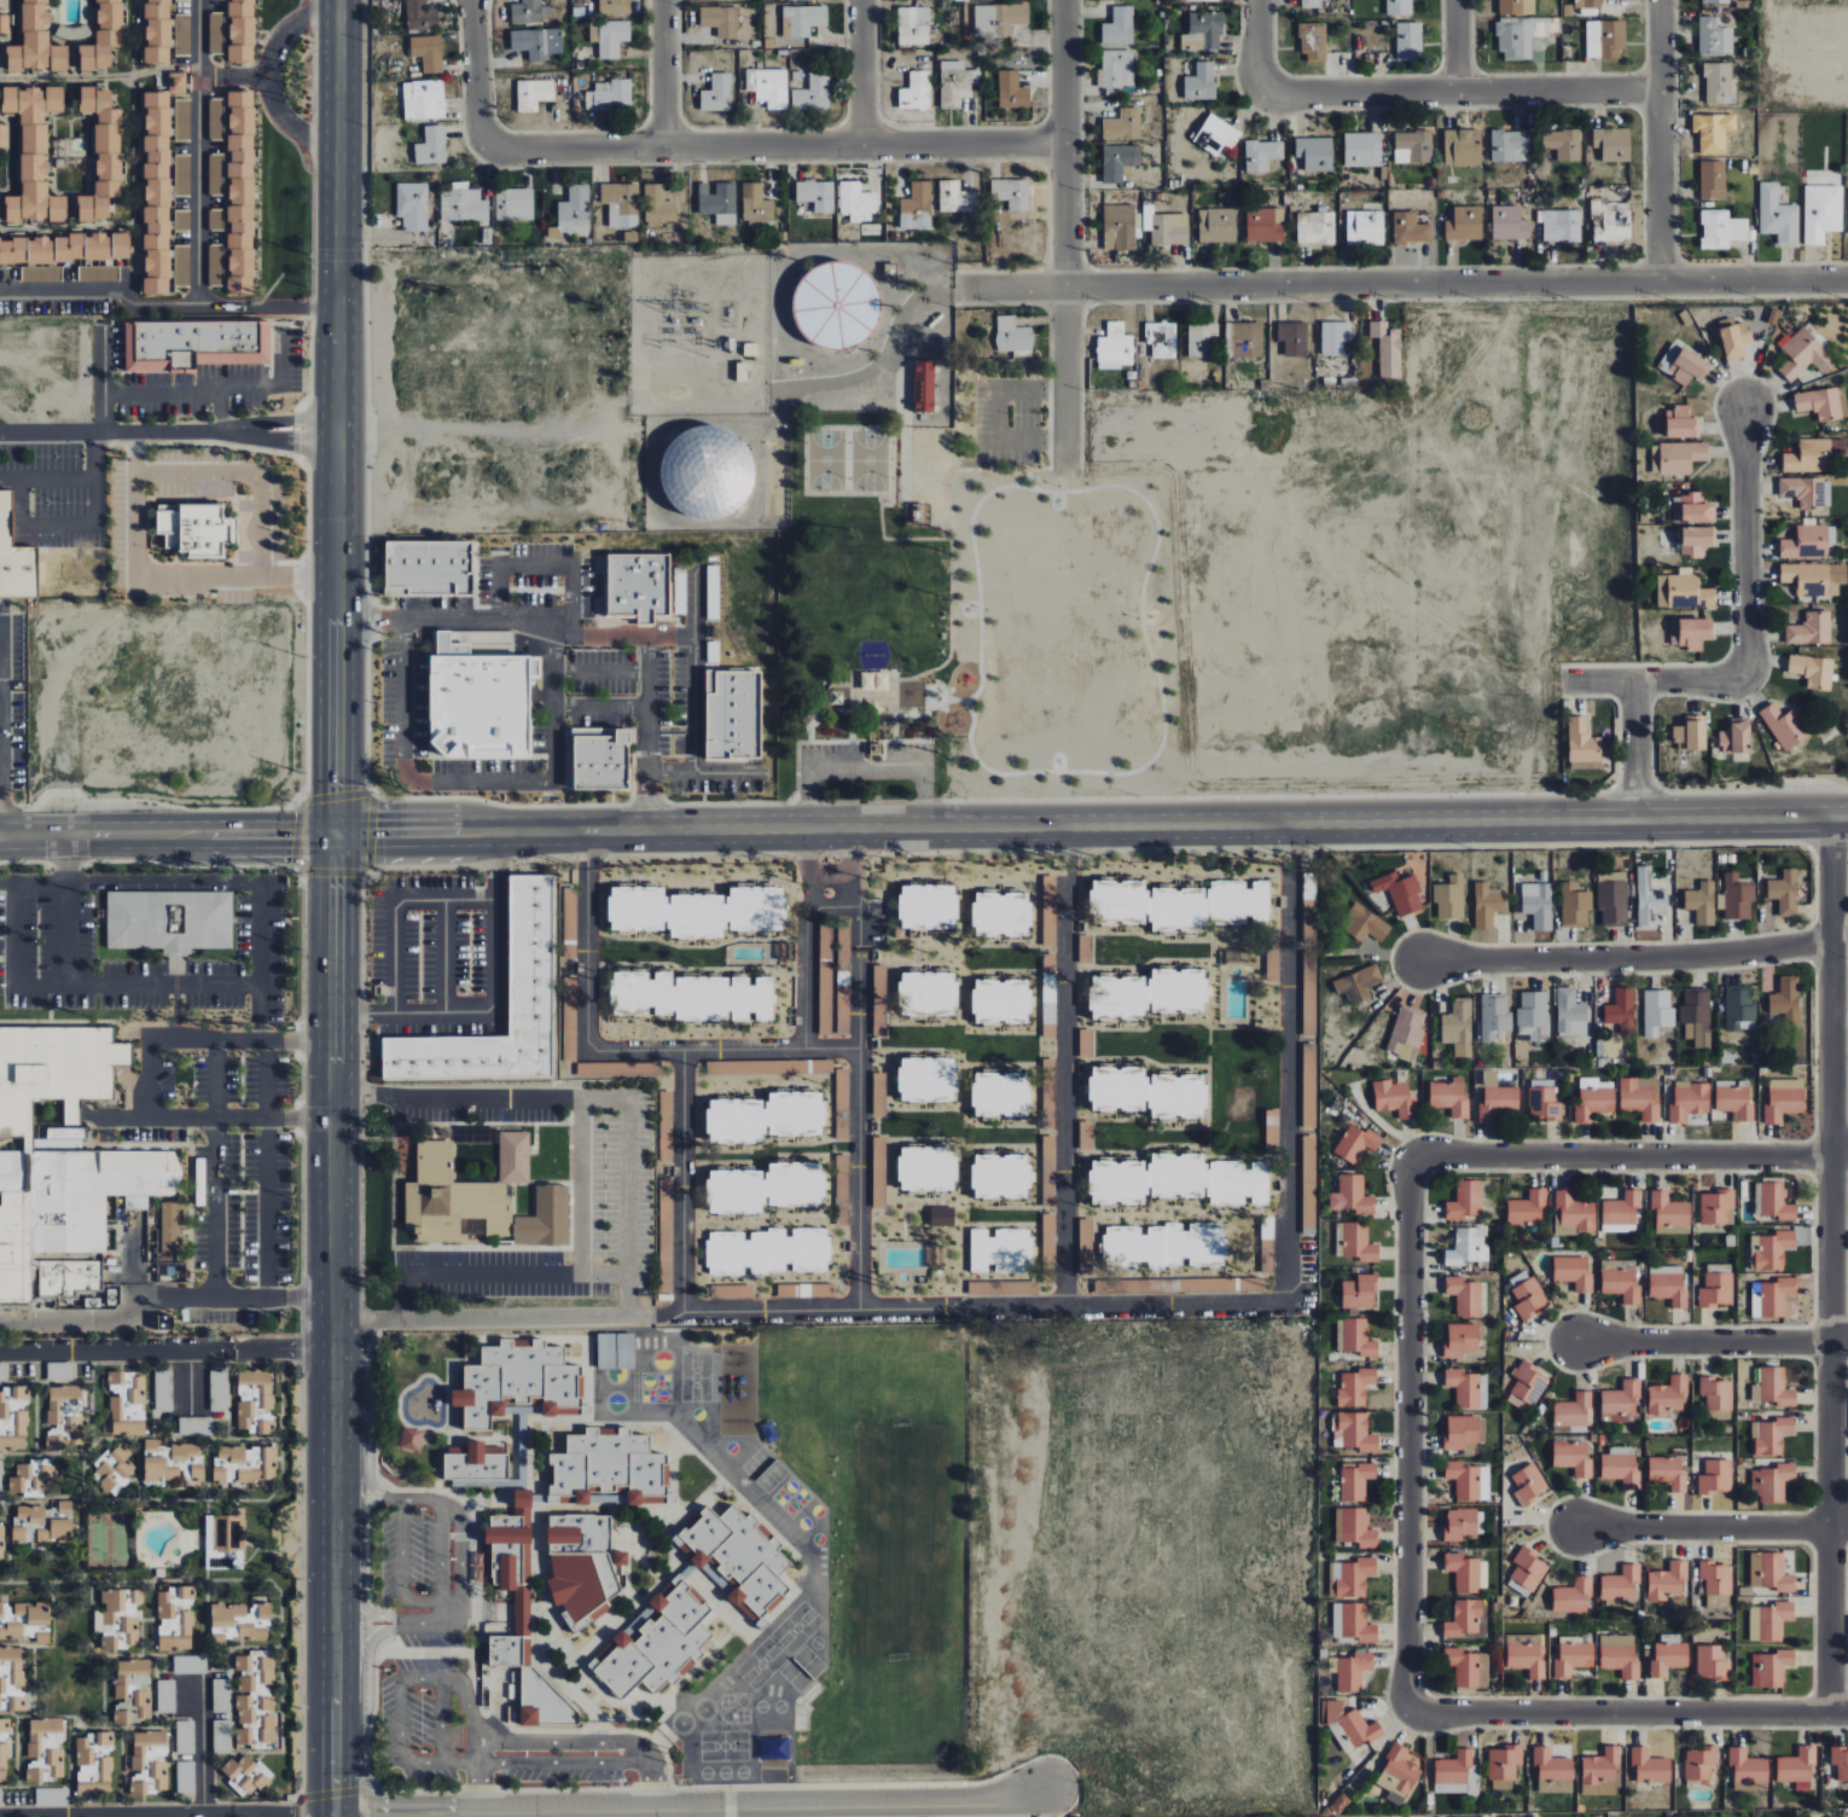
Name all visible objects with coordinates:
building: (1201, 0)
building: (1716, 1)
building: (1309, 4)
building: (1587, 4)
building: (614, 6)
building: (1399, 7)
building: (1516, 7)
building: (525, 12)
building: (419, 16)
building: (999, 18)
building: (720, 19)
building: (804, 19)
building: (913, 25)
building: (1118, 27)
building: (239, 30)
building: (156, 31)
building: (1203, 31)
building: (216, 33)
building: (101, 36)
building: (609, 36)
building: (1714, 37)
road: (1259, 39)
building: (1605, 39)
building: (1408, 41)
building: (35, 42)
building: (536, 42)
building: (1313, 42)
road: (1455, 46)
road: (199, 51)
building: (426, 52)
road: (473, 64)
building: (1116, 69)
road: (265, 72)
road: (861, 72)
road: (664, 74)
road: (246, 75)
building: (176, 82)
building: (1199, 82)
building: (1718, 82)
building: (957, 83)
building: (769, 88)
building: (1012, 91)
road: (1457, 91)
building: (916, 92)
building: (717, 93)
building: (813, 93)
building: (534, 94)
building: (609, 95)
building: (423, 99)
building: (215, 118)
building: (182, 120)
building: (1123, 124)
building: (1216, 134)
building: (2, 137)
road: (1661, 140)
building: (1563, 144)
building: (1612, 144)
building: (431, 146)
road: (766, 146)
building: (1413, 146)
building: (1510, 146)
building: (1461, 147)
building: (1362, 149)
building: (31, 153)
building: (101, 153)
building: (1315, 153)
building: (1262, 155)
building: (1117, 162)
building: (216, 174)
building: (1713, 180)
road: (199, 191)
building: (239, 192)
building: (1011, 192)
building: (156, 193)
building: (817, 195)
building: (918, 198)
building: (955, 198)
building: (719, 202)
building: (856, 202)
building: (621, 203)
building: (756, 203)
building: (464, 204)
building: (515, 204)
building: (412, 205)
building: (657, 205)
building: (1823, 211)
building: (1778, 216)
building: (182, 220)
building: (216, 220)
building: (1610, 222)
building: (1464, 224)
building: (1509, 224)
building: (1216, 225)
building: (1265, 225)
building: (1562, 225)
building: (1118, 227)
building: (1166, 227)
building: (1315, 227)
building: (1366, 228)
building: (1410, 228)
building: (1721, 230)
road: (1064, 233)
building: (64, 249)
building: (215, 265)
building: (182, 266)
building: (98, 273)
road: (1290, 285)
road: (123, 297)
building: (833, 306)
road: (291, 307)
building: (1012, 335)
building: (1335, 337)
building: (1161, 338)
building: (1292, 338)
building: (1202, 339)
building: (1243, 339)
building: (1734, 339)
building: (193, 344)
building: (1115, 346)
building: (1387, 348)
building: (1802, 354)
building: (1683, 365)
building: (923, 385)
road: (165, 388)
building: (1819, 404)
road: (335, 417)
building: (1680, 423)
road: (167, 434)
building: (1813, 455)
building: (1680, 457)
park: (825, 459)
park: (868, 460)
building: (704, 472)
building: (1807, 492)
building: (1696, 509)
building: (193, 529)
building: (1696, 541)
building: (1811, 542)
road: (1747, 545)
building: (14, 558)
building: (426, 568)
building: (1813, 577)
park: (865, 581)
road: (951, 582)
building: (635, 585)
building: (1684, 592)
building: (1811, 629)
building: (1690, 633)
road: (585, 634)
building: (1812, 671)
road: (1647, 678)
building: (873, 681)
parking lot: (618, 684)
building: (476, 701)
building: (731, 715)
building: (1784, 726)
building: (1690, 735)
building: (1734, 737)
building: (1582, 742)
road: (1634, 749)
building: (598, 759)
parking lot: (867, 760)
road: (864, 771)
road: (1089, 825)
road: (167, 838)
road: (65, 860)
road: (208, 882)
building: (1400, 893)
building: (1784, 893)
building: (1449, 898)
building: (1736, 898)
building: (1612, 899)
building: (1649, 900)
building: (1239, 902)
building: (1702, 902)
road: (393, 904)
building: (1487, 905)
building: (1538, 905)
building: (1575, 905)
building: (1147, 906)
building: (926, 907)
building: (1048, 911)
building: (696, 912)
building: (569, 913)
building: (1000, 915)
building: (168, 921)
building: (1362, 923)
road: (65, 934)
road: (808, 940)
road: (1840, 942)
building: (1085, 948)
building: (1309, 954)
road: (443, 956)
building: (528, 956)
road: (1627, 956)
building: (1272, 960)
building: (843, 977)
building: (825, 980)
building: (1358, 985)
road: (83, 986)
building: (926, 994)
building: (1048, 995)
building: (1146, 995)
building: (691, 997)
building: (879, 1000)
building: (1786, 1000)
building: (1000, 1002)
road: (494, 1004)
building: (1622, 1009)
building: (1741, 1009)
building: (1657, 1011)
building: (1570, 1014)
building: (1494, 1015)
building: (1533, 1016)
building: (1697, 1016)
building: (569, 1020)
building: (1458, 1027)
building: (1407, 1033)
road: (203, 1040)
building: (1085, 1044)
road: (617, 1051)
road: (327, 1066)
building: (769, 1067)
road: (1067, 1067)
building: (598, 1069)
building: (925, 1080)
road: (860, 1084)
building: (1309, 1086)
building: (841, 1093)
building: (1146, 1093)
building: (878, 1095)
building: (1000, 1095)
building: (1048, 1095)
building: (1449, 1097)
building: (1640, 1097)
road: (582, 1098)
building: (1394, 1098)
building: (1497, 1098)
building: (1734, 1099)
building: (1784, 1099)
building: (1690, 1101)
building: (1593, 1102)
building: (1544, 1104)
building: (765, 1118)
road: (217, 1119)
building: (666, 1126)
building: (1272, 1130)
building: (1085, 1136)
building: (1356, 1143)
road: (1628, 1154)
building: (63, 1155)
road: (214, 1168)
road: (266, 1168)
building: (878, 1168)
building: (925, 1169)
building: (841, 1171)
building: (1048, 1171)
building: (999, 1175)
building: (1178, 1180)
road: (682, 1182)
road: (582, 1185)
parking lot: (611, 1185)
building: (1309, 1185)
building: (765, 1188)
building: (461, 1191)
building: (1352, 1196)
building: (1465, 1201)
building: (1772, 1201)
building: (1527, 1208)
building: (1718, 1208)
building: (1669, 1211)
building: (1575, 1212)
building: (1621, 1213)
building: (941, 1217)
building: (545, 1219)
building: (471, 1227)
building: (170, 1231)
building: (666, 1236)
building: (1048, 1237)
building: (1358, 1243)
building: (1163, 1246)
building: (1469, 1248)
building: (1000, 1250)
building: (1772, 1250)
building: (767, 1252)
building: (1086, 1255)
building: (1267, 1255)
road: (1830, 1264)
road: (493, 1272)
building: (1574, 1272)
building: (1621, 1281)
building: (1213, 1284)
building: (1137, 1285)
building: (1668, 1285)
building: (992, 1288)
building: (804, 1290)
building: (1716, 1290)
building: (731, 1291)
building: (1359, 1293)
building: (1464, 1296)
building: (1772, 1298)
road: (159, 1299)
building: (1529, 1299)
road: (1044, 1310)
road: (1838, 1336)
building: (1355, 1337)
building: (1460, 1340)
road: (1703, 1340)
building: (615, 1349)
road: (163, 1351)
road: (188, 1380)
building: (517, 1382)
building: (1527, 1386)
building: (1355, 1387)
building: (1773, 1387)
building: (1468, 1388)
building: (219, 1391)
building: (1716, 1393)
building: (1668, 1395)
building: (60, 1400)
building: (254, 1400)
building: (1621, 1401)
building: (126, 1403)
building: (4, 1409)
building: (1574, 1410)
building: (194, 1426)
building: (74, 1428)
building: (1460, 1430)
building: (17, 1432)
road: (1406, 1433)
building: (1771, 1435)
building: (411, 1438)
building: (53, 1441)
building: (151, 1445)
building: (184, 1451)
building: (1573, 1457)
building: (244, 1463)
building: (475, 1463)
building: (608, 1467)
building: (1621, 1467)
building: (158, 1469)
building: (197, 1470)
building: (114, 1471)
building: (1668, 1471)
building: (1715, 1476)
building: (31, 1478)
building: (1469, 1480)
building: (1355, 1481)
building: (1772, 1481)
building: (1529, 1484)
building: (27, 1521)
building: (1463, 1522)
road: (1840, 1523)
building: (1355, 1527)
road: (1702, 1527)
building: (56, 1531)
building: (228, 1531)
building: (516, 1531)
building: (1, 1533)
road: (442, 1554)
road: (326, 1556)
building: (736, 1558)
building: (579, 1565)
building: (1464, 1572)
building: (1527, 1572)
building: (1769, 1572)
building: (1352, 1577)
building: (1667, 1580)
building: (1621, 1583)
building: (1715, 1583)
building: (1573, 1595)
building: (522, 1612)
building: (34, 1613)
building: (120, 1613)
building: (175, 1618)
building: (1466, 1619)
building: (240, 1620)
building: (1769, 1620)
building: (1353, 1622)
building: (10, 1630)
building: (109, 1642)
building: (657, 1642)
building: (1527, 1653)
building: (1669, 1654)
building: (1619, 1655)
building: (1573, 1659)
building: (1712, 1662)
building: (188, 1664)
building: (13, 1665)
building: (257, 1666)
building: (1469, 1667)
building: (1771, 1668)
building: (1353, 1671)
building: (246, 1683)
building: (121, 1685)
building: (1, 1691)
building: (167, 1696)
building: (267, 1702)
building: (143, 1703)
building: (245, 1708)
road: (1628, 1711)
building: (121, 1713)
building: (527, 1714)
building: (267, 1728)
building: (1355, 1729)
building: (244, 1736)
building: (43, 1749)
road: (204, 1751)
building: (4, 1752)
building: (151, 1755)
building: (1840, 1760)
building: (1699, 1763)
building: (93, 1765)
building: (1551, 1765)
building: (1504, 1766)
building: (1650, 1766)
building: (1797, 1767)
building: (1599, 1769)
building: (1749, 1770)
building: (1453, 1772)
building: (244, 1774)
building: (1397, 1775)
building: (185, 1777)
building: (138, 1788)
road: (690, 1801)
road: (163, 1813)
building: (1442, 1816)
building: (1536, 1816)
building: (1599, 1816)

